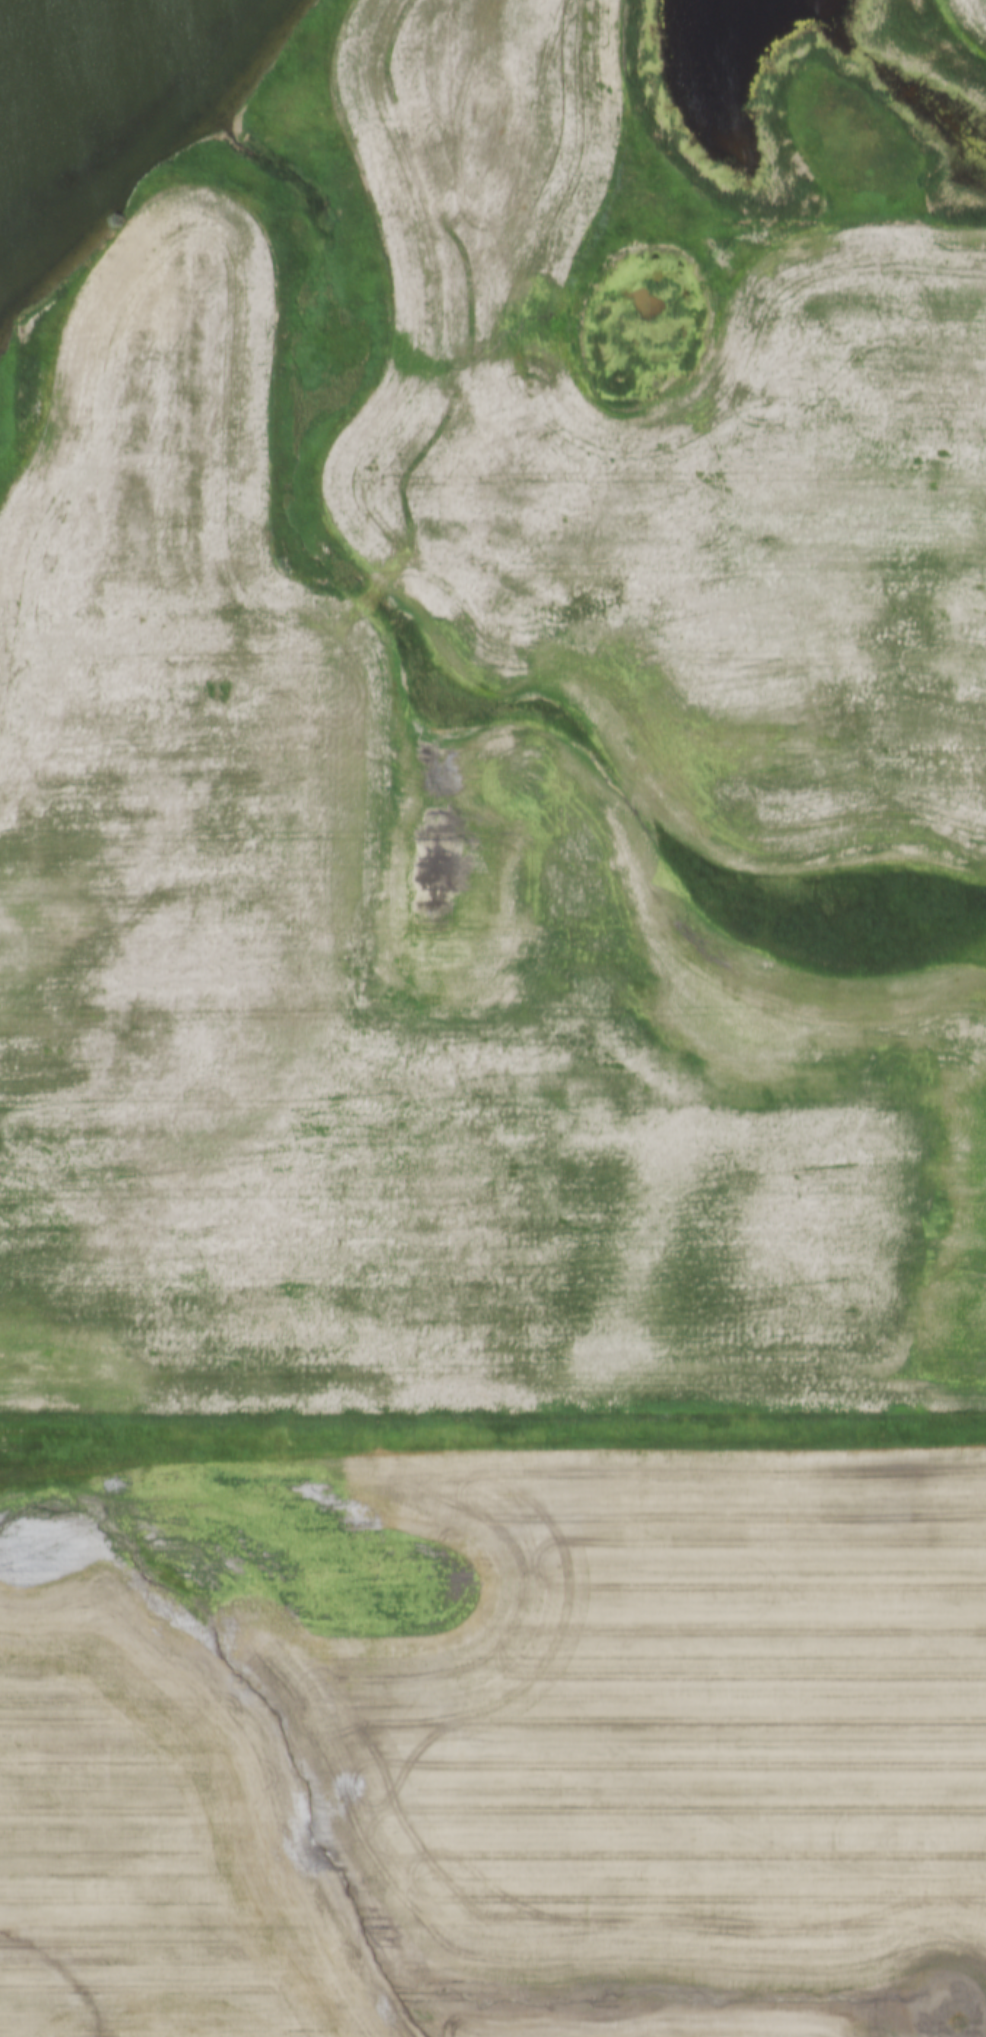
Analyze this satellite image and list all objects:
road: (798, 146)
road: (493, 1449)

